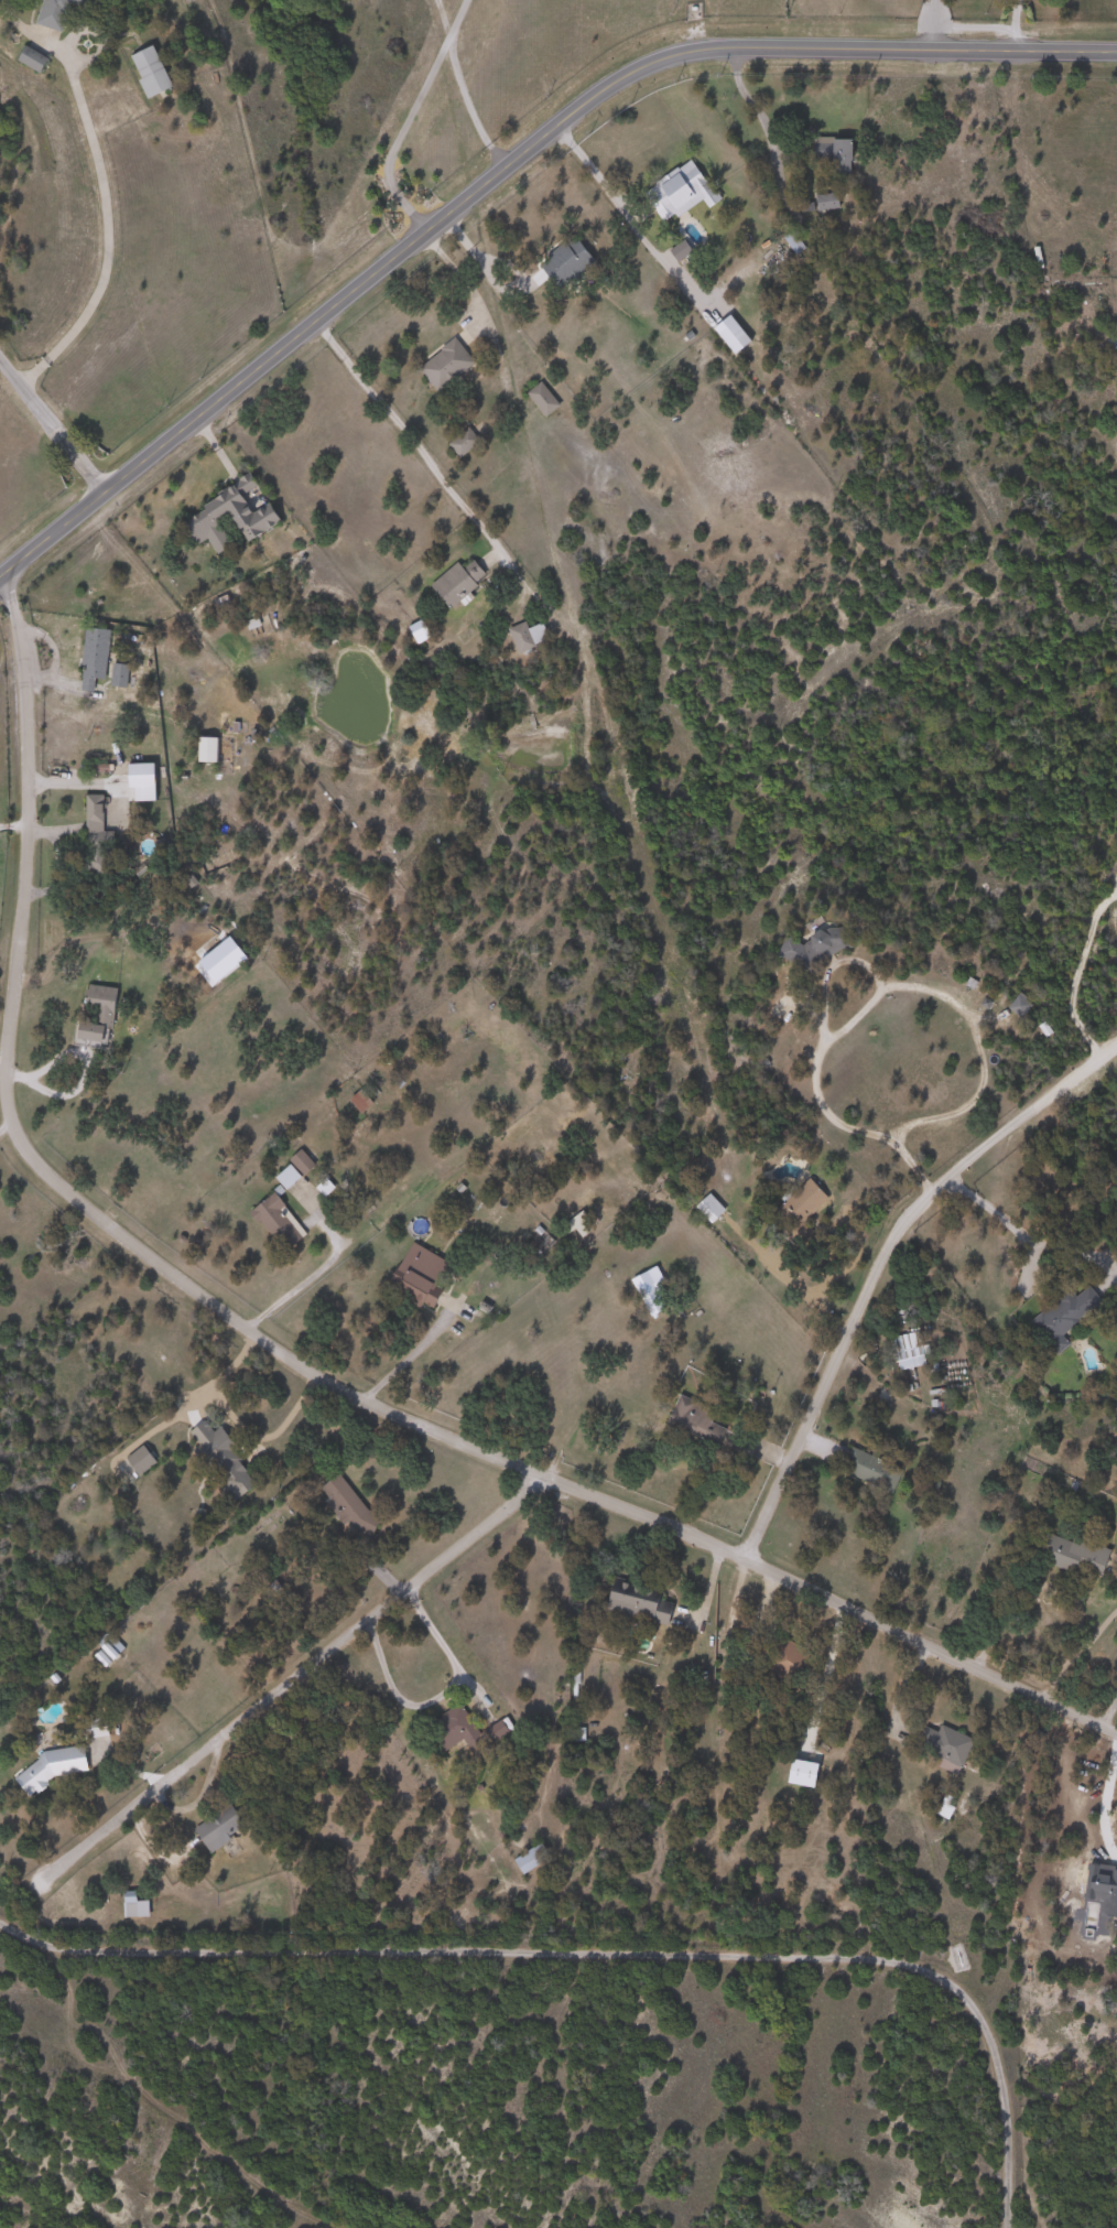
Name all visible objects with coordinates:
building: (80, 1)
building: (54, 13)
road: (440, 21)
road: (925, 24)
road: (1013, 24)
building: (35, 60)
building: (151, 72)
road: (463, 84)
road: (756, 113)
road: (400, 137)
building: (834, 152)
road: (503, 169)
building: (675, 190)
road: (100, 194)
building: (825, 201)
road: (622, 214)
building: (679, 250)
building: (565, 261)
road: (459, 278)
building: (1111, 343)
building: (445, 365)
building: (542, 399)
road: (50, 429)
road: (408, 437)
building: (462, 442)
building: (256, 516)
building: (457, 582)
building: (528, 636)
building: (95, 659)
building: (120, 675)
building: (97, 837)
building: (815, 947)
road: (854, 954)
road: (1074, 971)
building: (1020, 1004)
building: (99, 1014)
building: (362, 1102)
road: (4, 1125)
building: (806, 1197)
building: (712, 1208)
road: (1002, 1218)
building: (280, 1221)
road: (122, 1233)
road: (876, 1261)
road: (315, 1267)
building: (420, 1275)
building: (648, 1279)
building: (1067, 1313)
building: (910, 1350)
road: (401, 1358)
building: (696, 1420)
road: (238, 1423)
building: (141, 1459)
building: (220, 1460)
building: (870, 1469)
building: (348, 1506)
building: (1075, 1555)
building: (643, 1603)
road: (925, 1643)
road: (289, 1678)
road: (898, 1690)
road: (438, 1695)
road: (1107, 1704)
building: (96, 1728)
building: (469, 1729)
building: (952, 1750)
road: (130, 1761)
building: (57, 1765)
building: (220, 1826)
building: (532, 1858)
building: (135, 1905)
road: (601, 1951)

